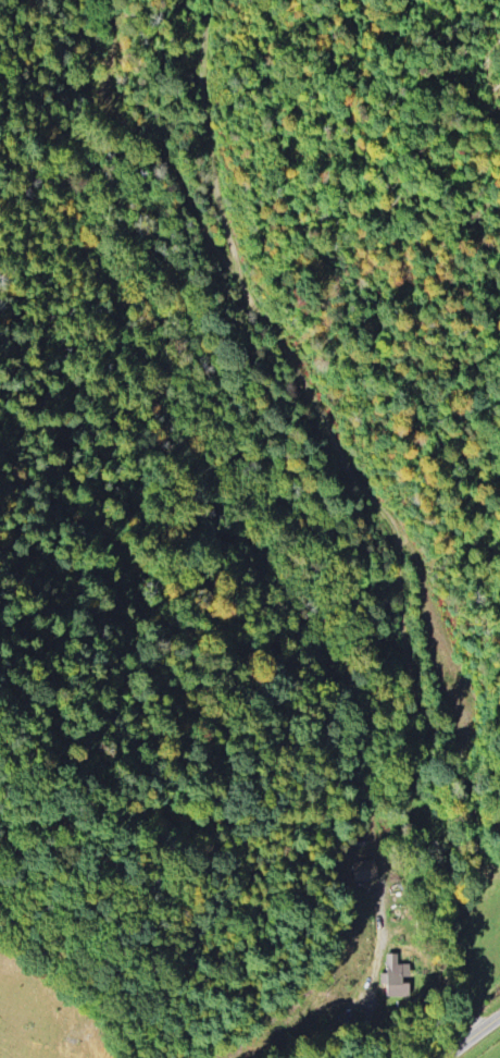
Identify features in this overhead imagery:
road: (380, 508)
building: (395, 969)
road: (473, 1036)

